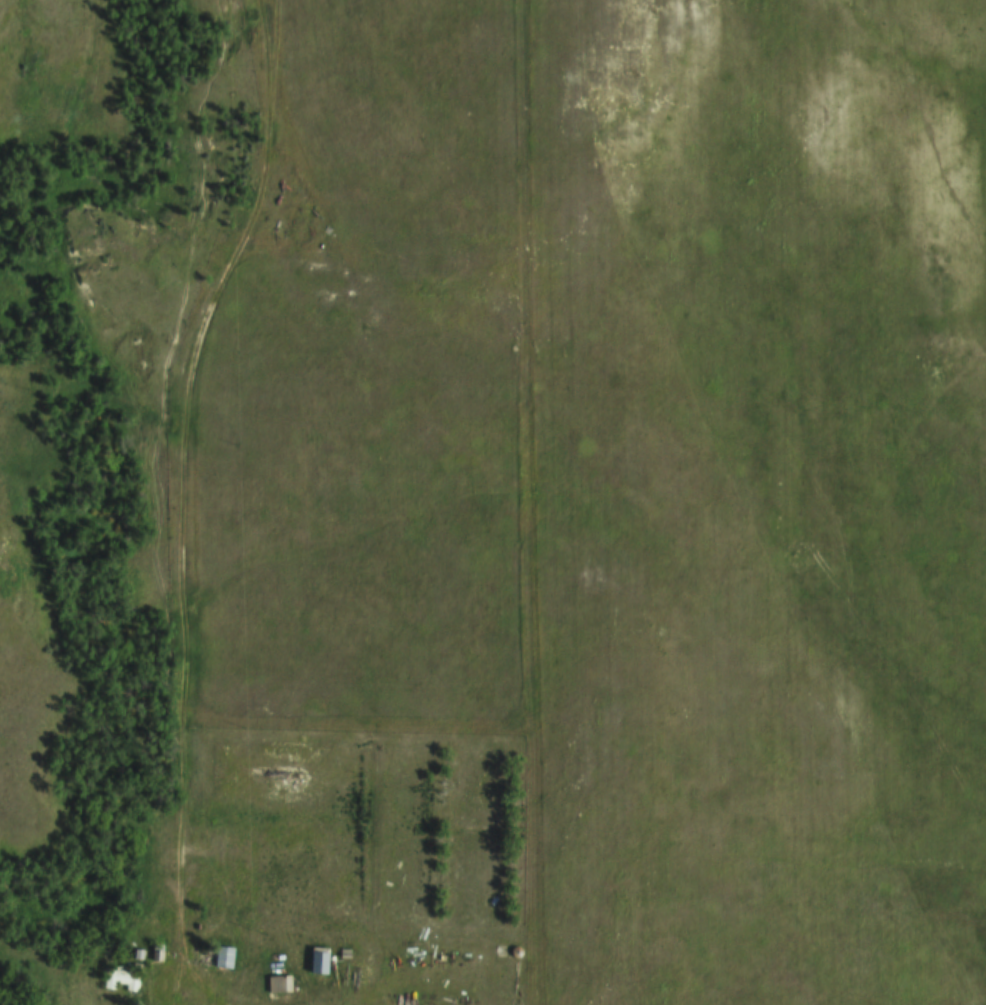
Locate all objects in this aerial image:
road: (179, 500)
building: (225, 958)
building: (320, 961)
building: (120, 978)
building: (277, 985)

